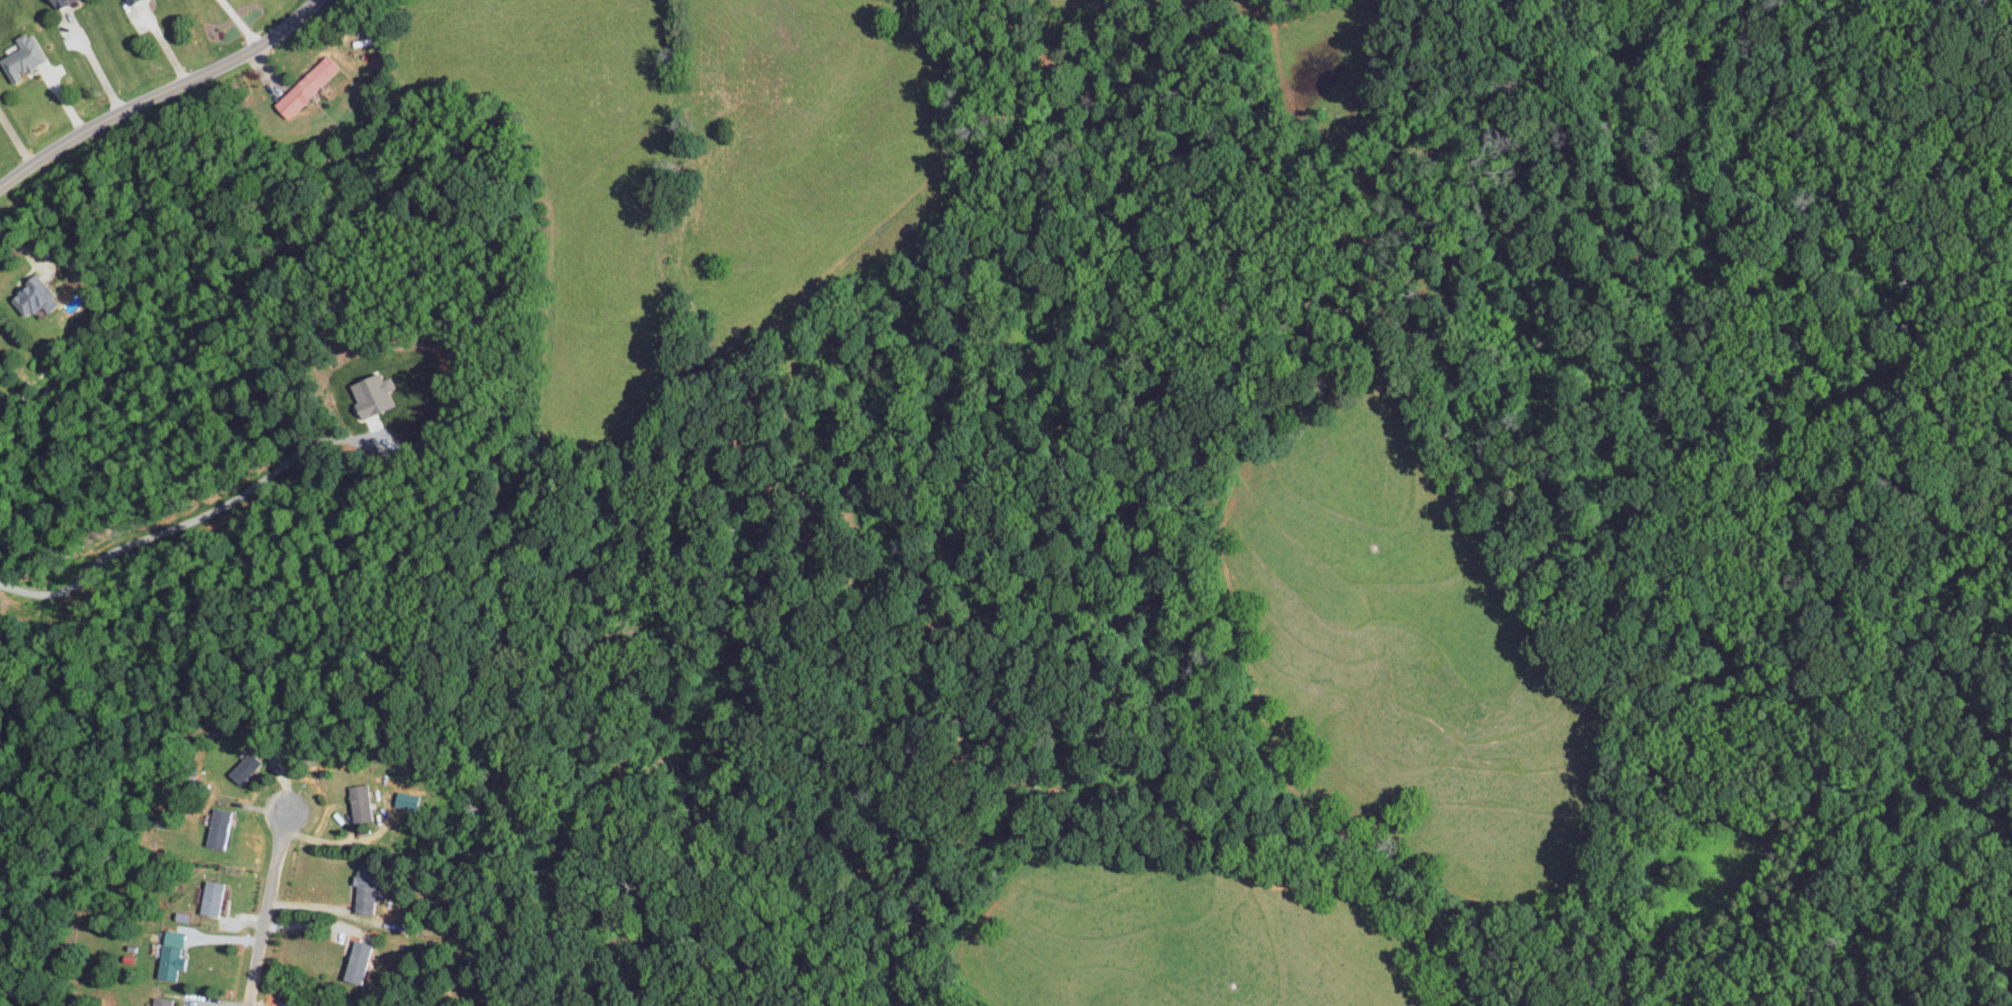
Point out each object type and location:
building: (127, 1)
building: (55, 3)
road: (236, 23)
road: (162, 41)
building: (20, 56)
road: (98, 69)
building: (305, 85)
road: (158, 93)
road: (15, 137)
road: (27, 251)
building: (31, 296)
building: (368, 394)
road: (170, 532)
building: (243, 767)
building: (405, 799)
building: (358, 801)
building: (217, 826)
road: (333, 842)
road: (264, 893)
building: (365, 895)
building: (209, 896)
road: (314, 905)
building: (170, 955)
building: (354, 960)
building: (160, 1001)

